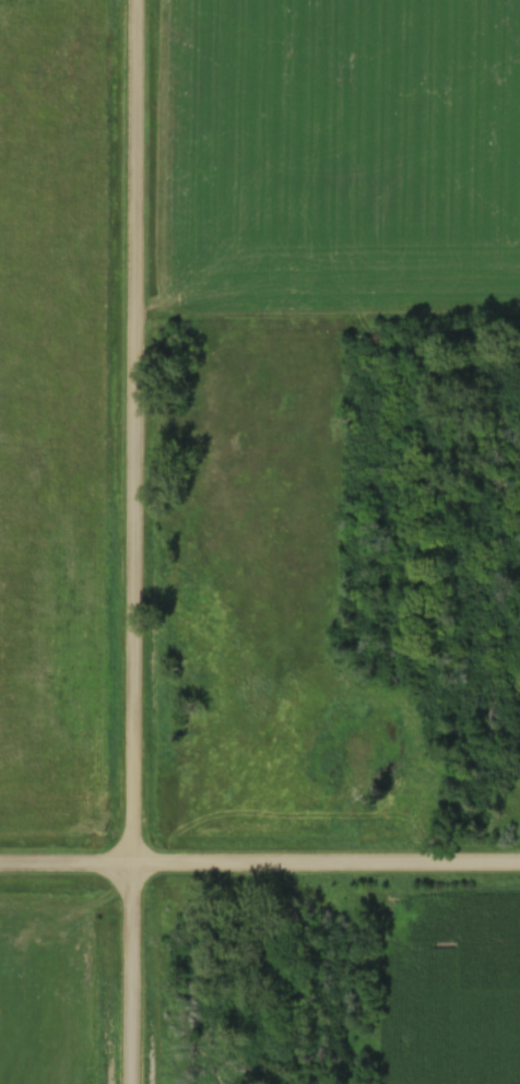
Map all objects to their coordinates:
road: (122, 542)
road: (260, 858)

